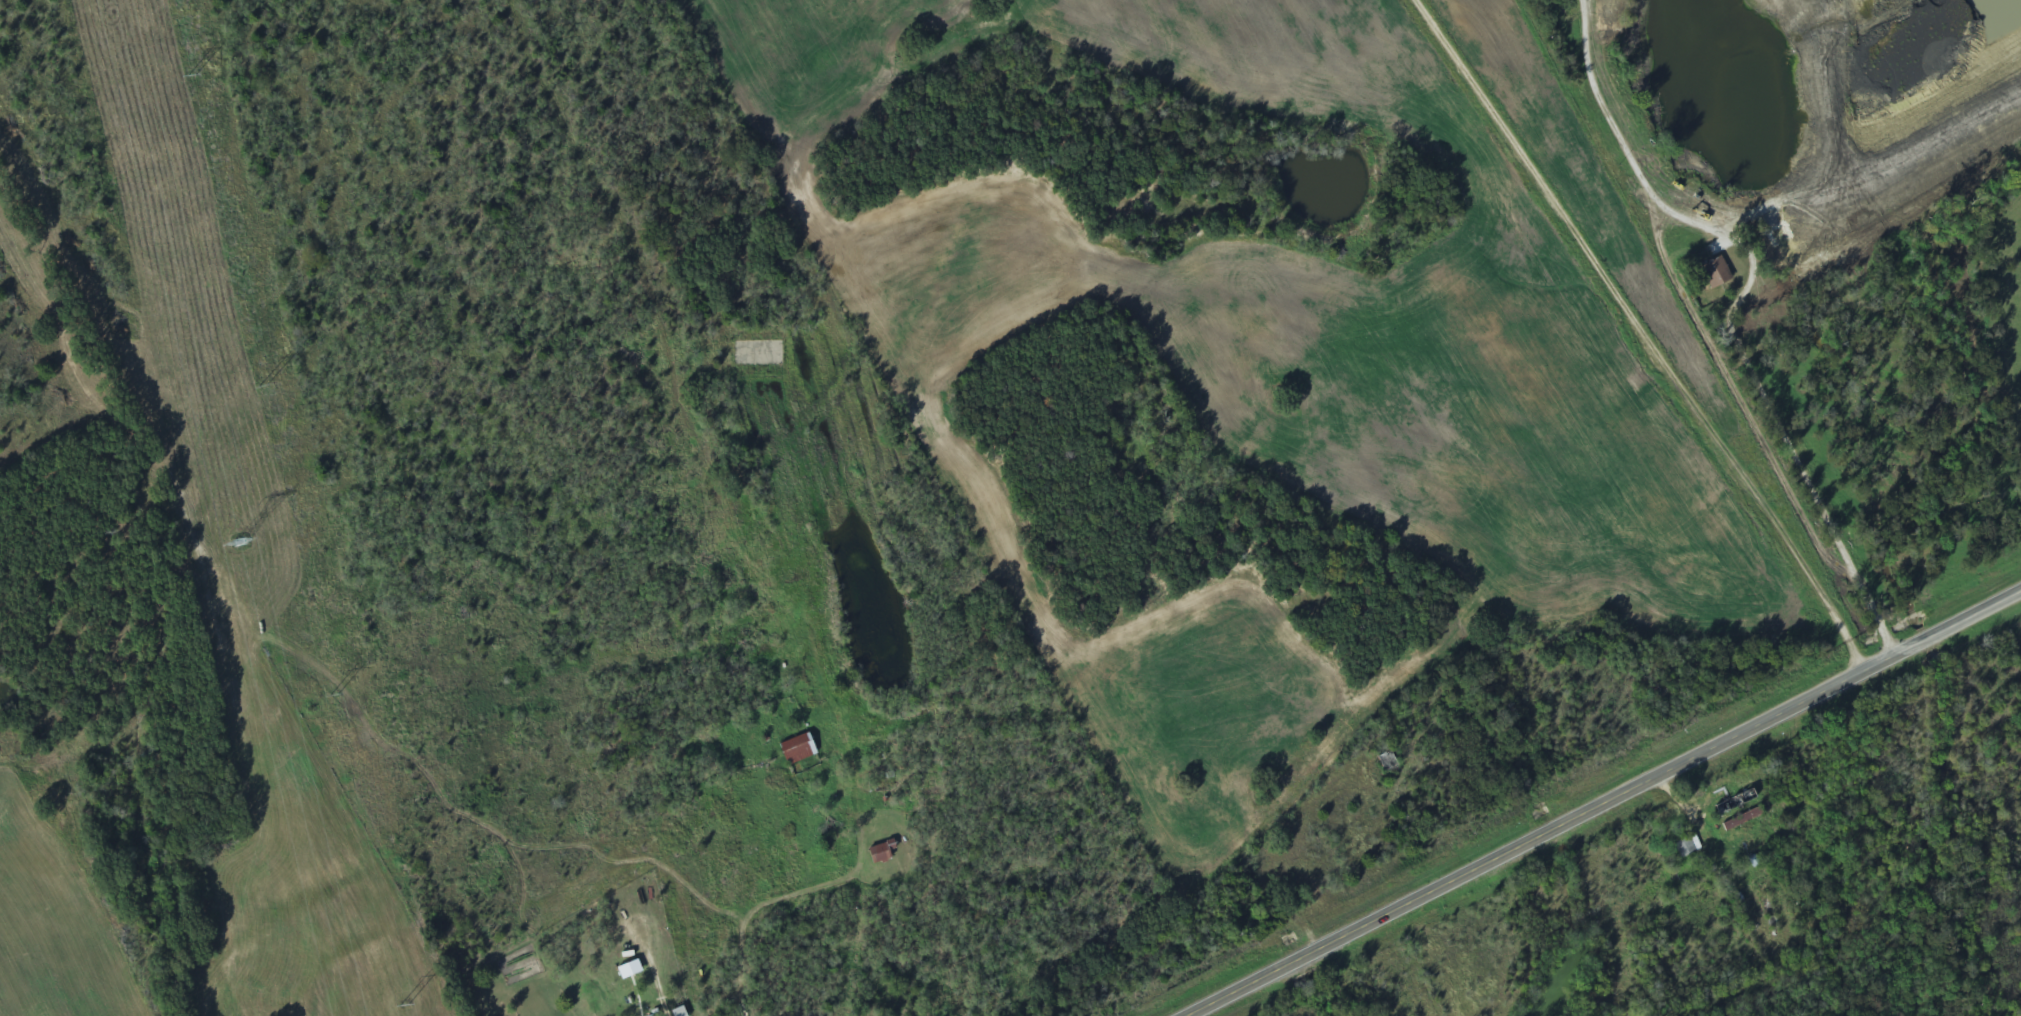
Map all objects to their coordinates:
power tower: (193, 79)
dam: (1908, 174)
building: (1715, 272)
road: (1746, 301)
road: (1641, 336)
power tower: (264, 387)
power tower: (242, 543)
power tower: (335, 698)
building: (796, 749)
road: (1609, 805)
building: (1687, 846)
building: (879, 852)
building: (628, 970)
power tower: (404, 1006)
building: (678, 1012)

